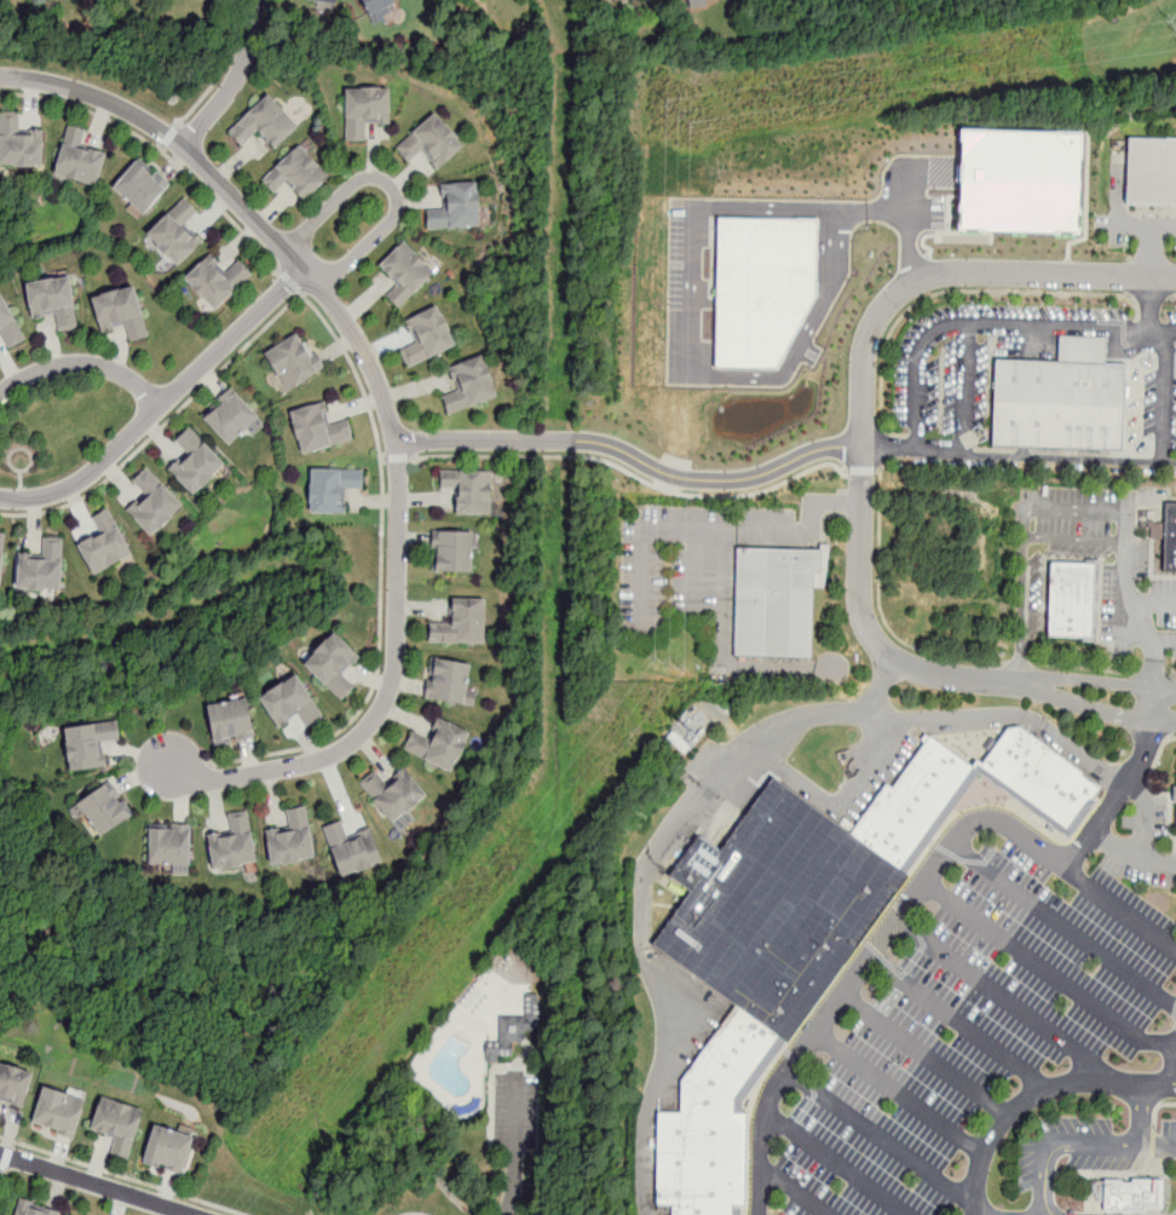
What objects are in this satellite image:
building: (644, 0)
building: (690, 0)
building: (328, 1)
building: (376, 8)
power tower: (1175, 35)
road: (235, 79)
road: (203, 96)
road: (85, 109)
building: (364, 111)
power tower: (675, 115)
building: (265, 123)
road: (169, 136)
building: (19, 142)
building: (431, 143)
building: (79, 159)
building: (1151, 169)
building: (296, 175)
building: (1020, 180)
road: (388, 185)
building: (140, 186)
road: (221, 207)
building: (455, 207)
road: (911, 223)
road: (1137, 224)
building: (175, 234)
building: (404, 272)
road: (1151, 278)
building: (217, 282)
road: (292, 282)
building: (762, 287)
road: (955, 290)
road: (1149, 296)
road: (1172, 298)
building: (53, 303)
building: (121, 313)
road: (692, 319)
building: (8, 323)
road: (990, 326)
building: (427, 336)
building: (293, 361)
road: (82, 364)
building: (469, 386)
road: (361, 387)
road: (963, 390)
road: (1161, 397)
road: (863, 402)
road: (161, 404)
building: (1055, 408)
road: (387, 410)
building: (229, 415)
building: (318, 427)
road: (484, 440)
road: (881, 445)
road: (1019, 456)
road: (397, 457)
building: (195, 460)
road: (863, 470)
road: (633, 474)
road: (717, 478)
building: (332, 489)
building: (468, 491)
building: (152, 501)
road: (807, 522)
road: (1060, 541)
building: (1169, 541)
building: (104, 542)
building: (451, 551)
building: (1, 553)
road: (1124, 558)
building: (41, 568)
road: (1149, 601)
building: (1067, 603)
building: (771, 605)
road: (881, 610)
road: (1024, 611)
building: (461, 622)
road: (1165, 643)
road: (1020, 662)
power tower: (669, 664)
building: (333, 666)
road: (1084, 667)
road: (1154, 674)
road: (1175, 678)
building: (448, 681)
road: (1086, 681)
road: (880, 689)
road: (1164, 689)
building: (290, 703)
road: (1084, 706)
road: (1152, 706)
building: (230, 722)
road: (1163, 722)
road: (1172, 739)
building: (88, 743)
building: (438, 744)
building: (1037, 776)
road: (713, 787)
building: (392, 791)
fountain: (982, 793)
road: (1117, 800)
building: (911, 802)
building: (103, 810)
building: (290, 839)
building: (230, 845)
building: (169, 846)
building: (352, 847)
road: (1132, 857)
road: (1122, 908)
building: (776, 909)
road: (1063, 927)
road: (867, 964)
road: (1050, 975)
road: (1008, 1004)
parking lot: (988, 1019)
road: (962, 1026)
building: (513, 1031)
road: (924, 1060)
building: (13, 1086)
road: (900, 1094)
road: (1036, 1095)
road: (1168, 1104)
building: (58, 1109)
parking lot: (502, 1113)
road: (1142, 1117)
building: (708, 1121)
building: (116, 1123)
road: (882, 1140)
road: (514, 1146)
road: (1073, 1146)
building: (167, 1150)
road: (5, 1154)
road: (837, 1165)
road: (1051, 1169)
road: (2, 1175)
road: (122, 1176)
road: (94, 1184)
road: (792, 1192)
building: (1128, 1196)
building: (33, 1209)
road: (414, 1214)

